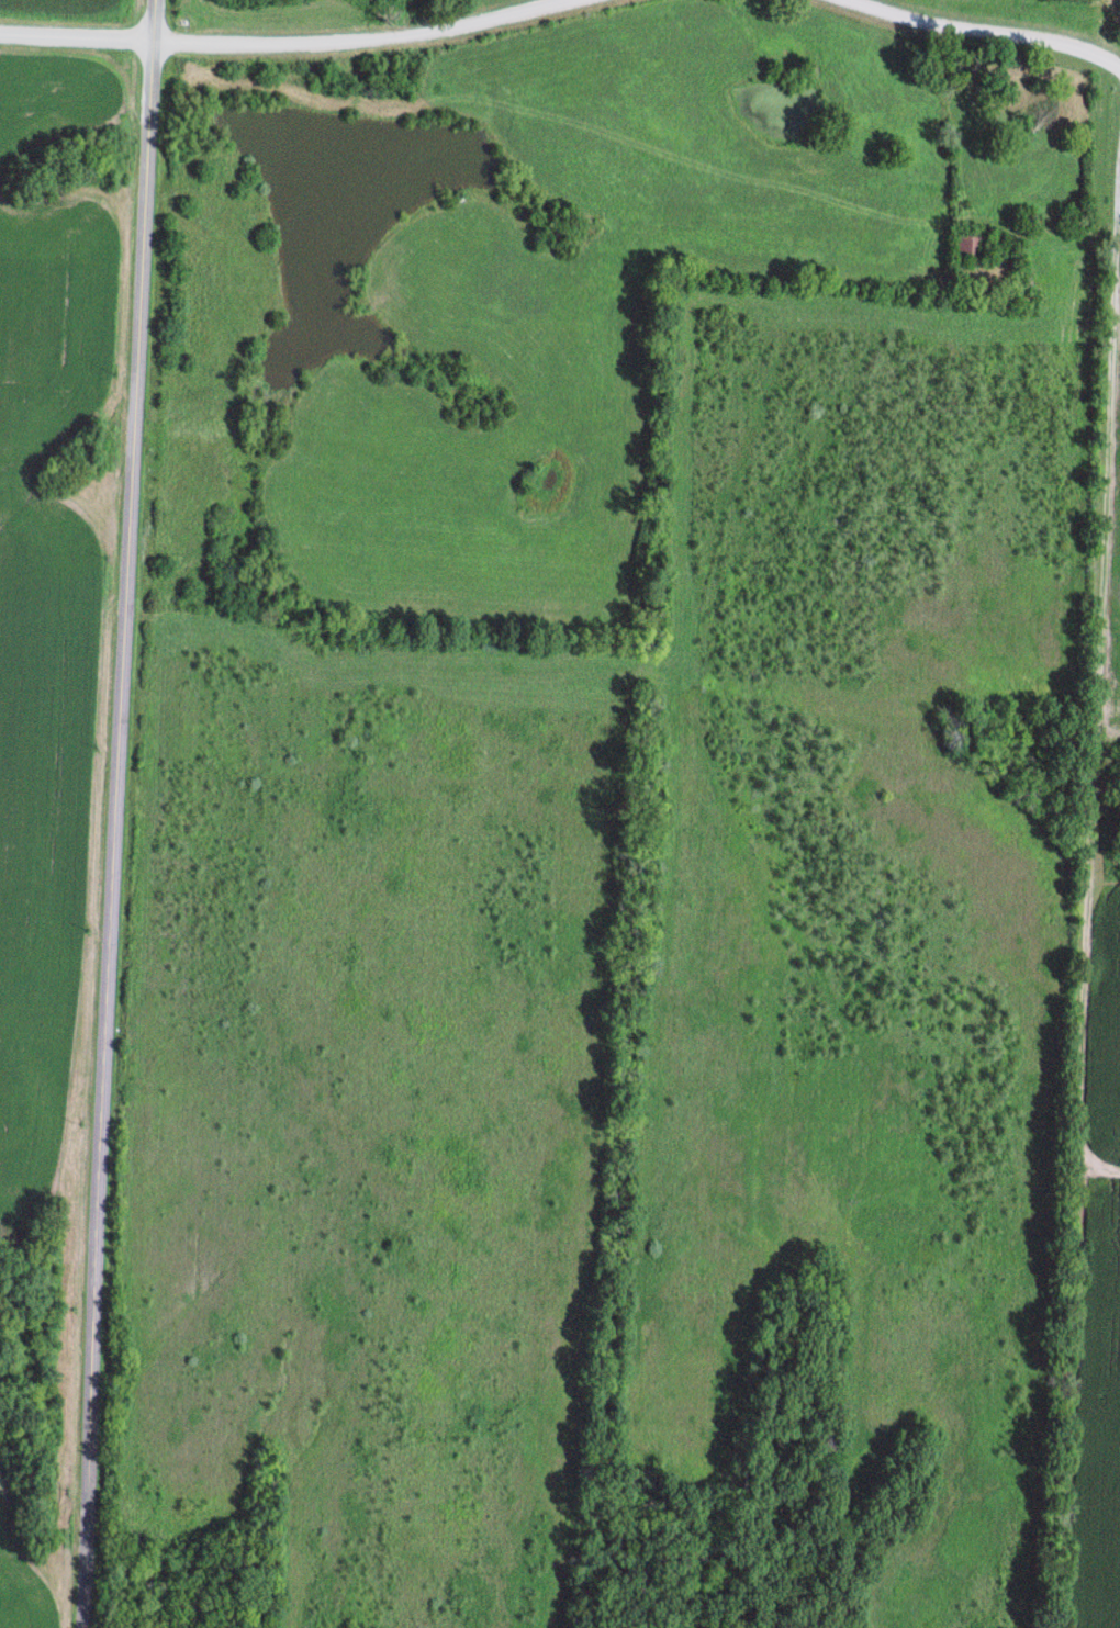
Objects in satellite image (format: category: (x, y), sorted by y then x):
road: (987, 29)
road: (284, 42)
road: (1053, 237)
building: (966, 246)
road: (1097, 688)
road: (115, 813)

